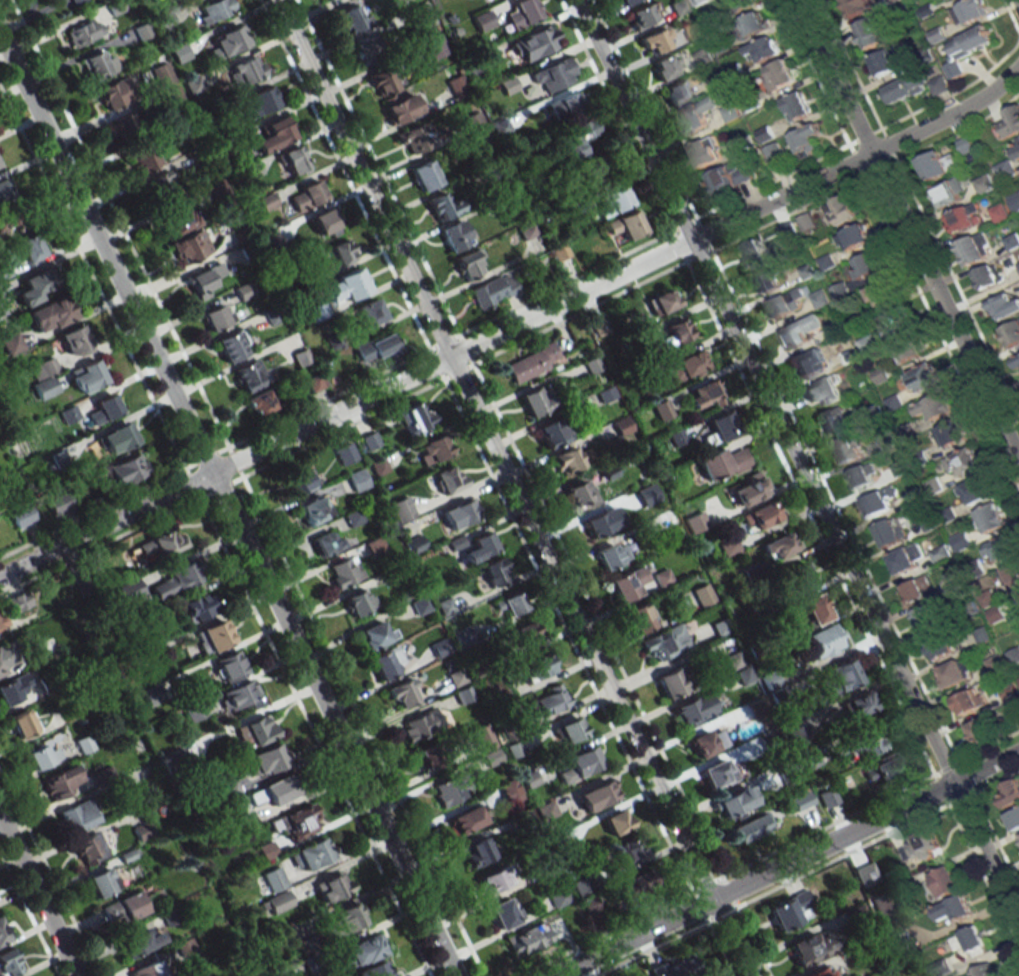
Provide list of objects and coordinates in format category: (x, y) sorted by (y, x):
building: (327, 0)
road: (1018, 0)
building: (73, 1)
building: (624, 1)
building: (698, 1)
building: (745, 3)
building: (857, 6)
building: (214, 10)
building: (969, 11)
building: (522, 13)
building: (644, 14)
building: (352, 20)
building: (483, 20)
building: (754, 23)
building: (872, 31)
building: (83, 32)
building: (229, 40)
building: (655, 40)
building: (535, 43)
building: (367, 47)
building: (966, 48)
building: (763, 49)
building: (702, 56)
building: (885, 61)
building: (99, 64)
building: (666, 66)
building: (244, 71)
building: (162, 74)
building: (779, 74)
building: (553, 75)
building: (382, 81)
building: (193, 84)
building: (508, 85)
building: (938, 85)
building: (905, 87)
building: (678, 91)
building: (113, 94)
building: (172, 95)
building: (263, 101)
building: (564, 105)
building: (796, 105)
building: (402, 108)
building: (695, 115)
building: (1009, 122)
building: (125, 125)
building: (501, 126)
building: (274, 134)
building: (577, 137)
building: (805, 139)
building: (411, 140)
building: (966, 144)
building: (1015, 147)
building: (706, 151)
building: (773, 152)
building: (143, 158)
building: (294, 159)
road: (857, 159)
building: (937, 164)
building: (599, 167)
building: (1005, 170)
building: (424, 175)
building: (729, 176)
building: (984, 183)
building: (160, 187)
building: (6, 190)
building: (950, 191)
building: (306, 195)
building: (613, 201)
building: (1015, 201)
building: (444, 206)
building: (843, 209)
building: (965, 218)
building: (177, 221)
building: (806, 221)
building: (323, 223)
building: (625, 225)
building: (787, 229)
road: (908, 230)
building: (455, 236)
building: (852, 237)
building: (188, 247)
building: (30, 248)
building: (975, 248)
building: (341, 252)
building: (754, 254)
building: (470, 262)
building: (867, 264)
building: (989, 275)
building: (204, 280)
building: (764, 280)
building: (346, 286)
building: (33, 288)
building: (494, 289)
building: (882, 292)
building: (820, 298)
building: (662, 302)
building: (787, 303)
building: (1004, 306)
building: (369, 312)
building: (49, 314)
building: (217, 316)
building: (896, 319)
building: (804, 330)
building: (676, 333)
building: (1012, 333)
building: (73, 341)
building: (10, 343)
building: (868, 343)
building: (231, 345)
building: (375, 347)
building: (911, 349)
building: (846, 355)
building: (301, 356)
building: (1017, 360)
building: (532, 363)
building: (808, 364)
building: (686, 366)
building: (249, 375)
building: (86, 376)
building: (925, 377)
building: (315, 382)
building: (824, 390)
road: (763, 391)
building: (703, 394)
building: (535, 400)
building: (262, 401)
building: (935, 406)
building: (105, 408)
road: (345, 408)
building: (662, 409)
building: (415, 418)
building: (835, 421)
building: (720, 428)
building: (952, 432)
building: (551, 433)
building: (121, 436)
building: (370, 440)
building: (432, 449)
building: (848, 449)
building: (345, 453)
building: (567, 460)
building: (963, 461)
building: (722, 463)
building: (378, 466)
building: (124, 470)
building: (863, 476)
building: (448, 479)
building: (357, 480)
road: (511, 488)
building: (748, 490)
building: (976, 491)
building: (581, 495)
building: (877, 501)
building: (60, 504)
road: (227, 506)
building: (315, 509)
building: (401, 509)
building: (458, 514)
building: (22, 516)
building: (760, 516)
building: (992, 518)
building: (929, 523)
building: (595, 525)
building: (890, 532)
building: (962, 540)
building: (326, 542)
building: (159, 545)
building: (729, 546)
building: (777, 546)
building: (480, 547)
building: (1003, 547)
building: (940, 553)
building: (612, 555)
building: (908, 558)
building: (343, 572)
building: (495, 572)
building: (1012, 574)
building: (800, 577)
building: (174, 580)
building: (627, 584)
building: (128, 589)
building: (918, 589)
building: (703, 594)
building: (989, 600)
building: (18, 601)
building: (358, 602)
building: (510, 603)
building: (196, 607)
building: (815, 608)
building: (996, 613)
building: (638, 618)
building: (923, 620)
building: (2, 621)
building: (374, 635)
building: (526, 635)
building: (211, 636)
building: (823, 641)
building: (665, 642)
building: (940, 646)
building: (4, 657)
building: (387, 662)
building: (996, 663)
building: (229, 666)
building: (536, 667)
building: (739, 667)
building: (956, 671)
building: (840, 677)
building: (671, 682)
building: (9, 692)
building: (402, 693)
building: (463, 694)
building: (240, 695)
building: (547, 701)
building: (969, 701)
building: (860, 703)
building: (694, 709)
building: (194, 711)
building: (26, 722)
building: (417, 726)
building: (982, 729)
building: (569, 730)
building: (254, 731)
building: (482, 738)
building: (866, 740)
building: (702, 744)
building: (41, 754)
building: (433, 755)
building: (264, 760)
building: (583, 761)
road: (986, 767)
building: (886, 768)
building: (719, 773)
building: (61, 782)
building: (230, 789)
building: (451, 789)
building: (143, 792)
building: (271, 793)
building: (600, 793)
building: (1009, 793)
building: (828, 797)
building: (735, 803)
building: (77, 816)
building: (1014, 819)
building: (465, 820)
building: (296, 822)
building: (616, 822)
building: (751, 827)
building: (927, 843)
building: (89, 848)
building: (265, 850)
building: (627, 851)
road: (986, 851)
building: (477, 852)
building: (311, 854)
building: (274, 879)
building: (496, 879)
road: (753, 879)
building: (946, 881)
building: (101, 882)
building: (640, 882)
building: (331, 887)
road: (38, 897)
building: (558, 897)
building: (884, 904)
building: (123, 909)
building: (954, 909)
building: (789, 910)
building: (504, 912)
building: (345, 919)
building: (2, 935)
building: (528, 939)
building: (971, 939)
building: (138, 942)
building: (810, 948)
building: (362, 951)
building: (8, 963)
building: (310, 964)
building: (677, 967)
building: (941, 967)
building: (376, 969)
building: (147, 970)
building: (984, 970)
building: (821, 971)

